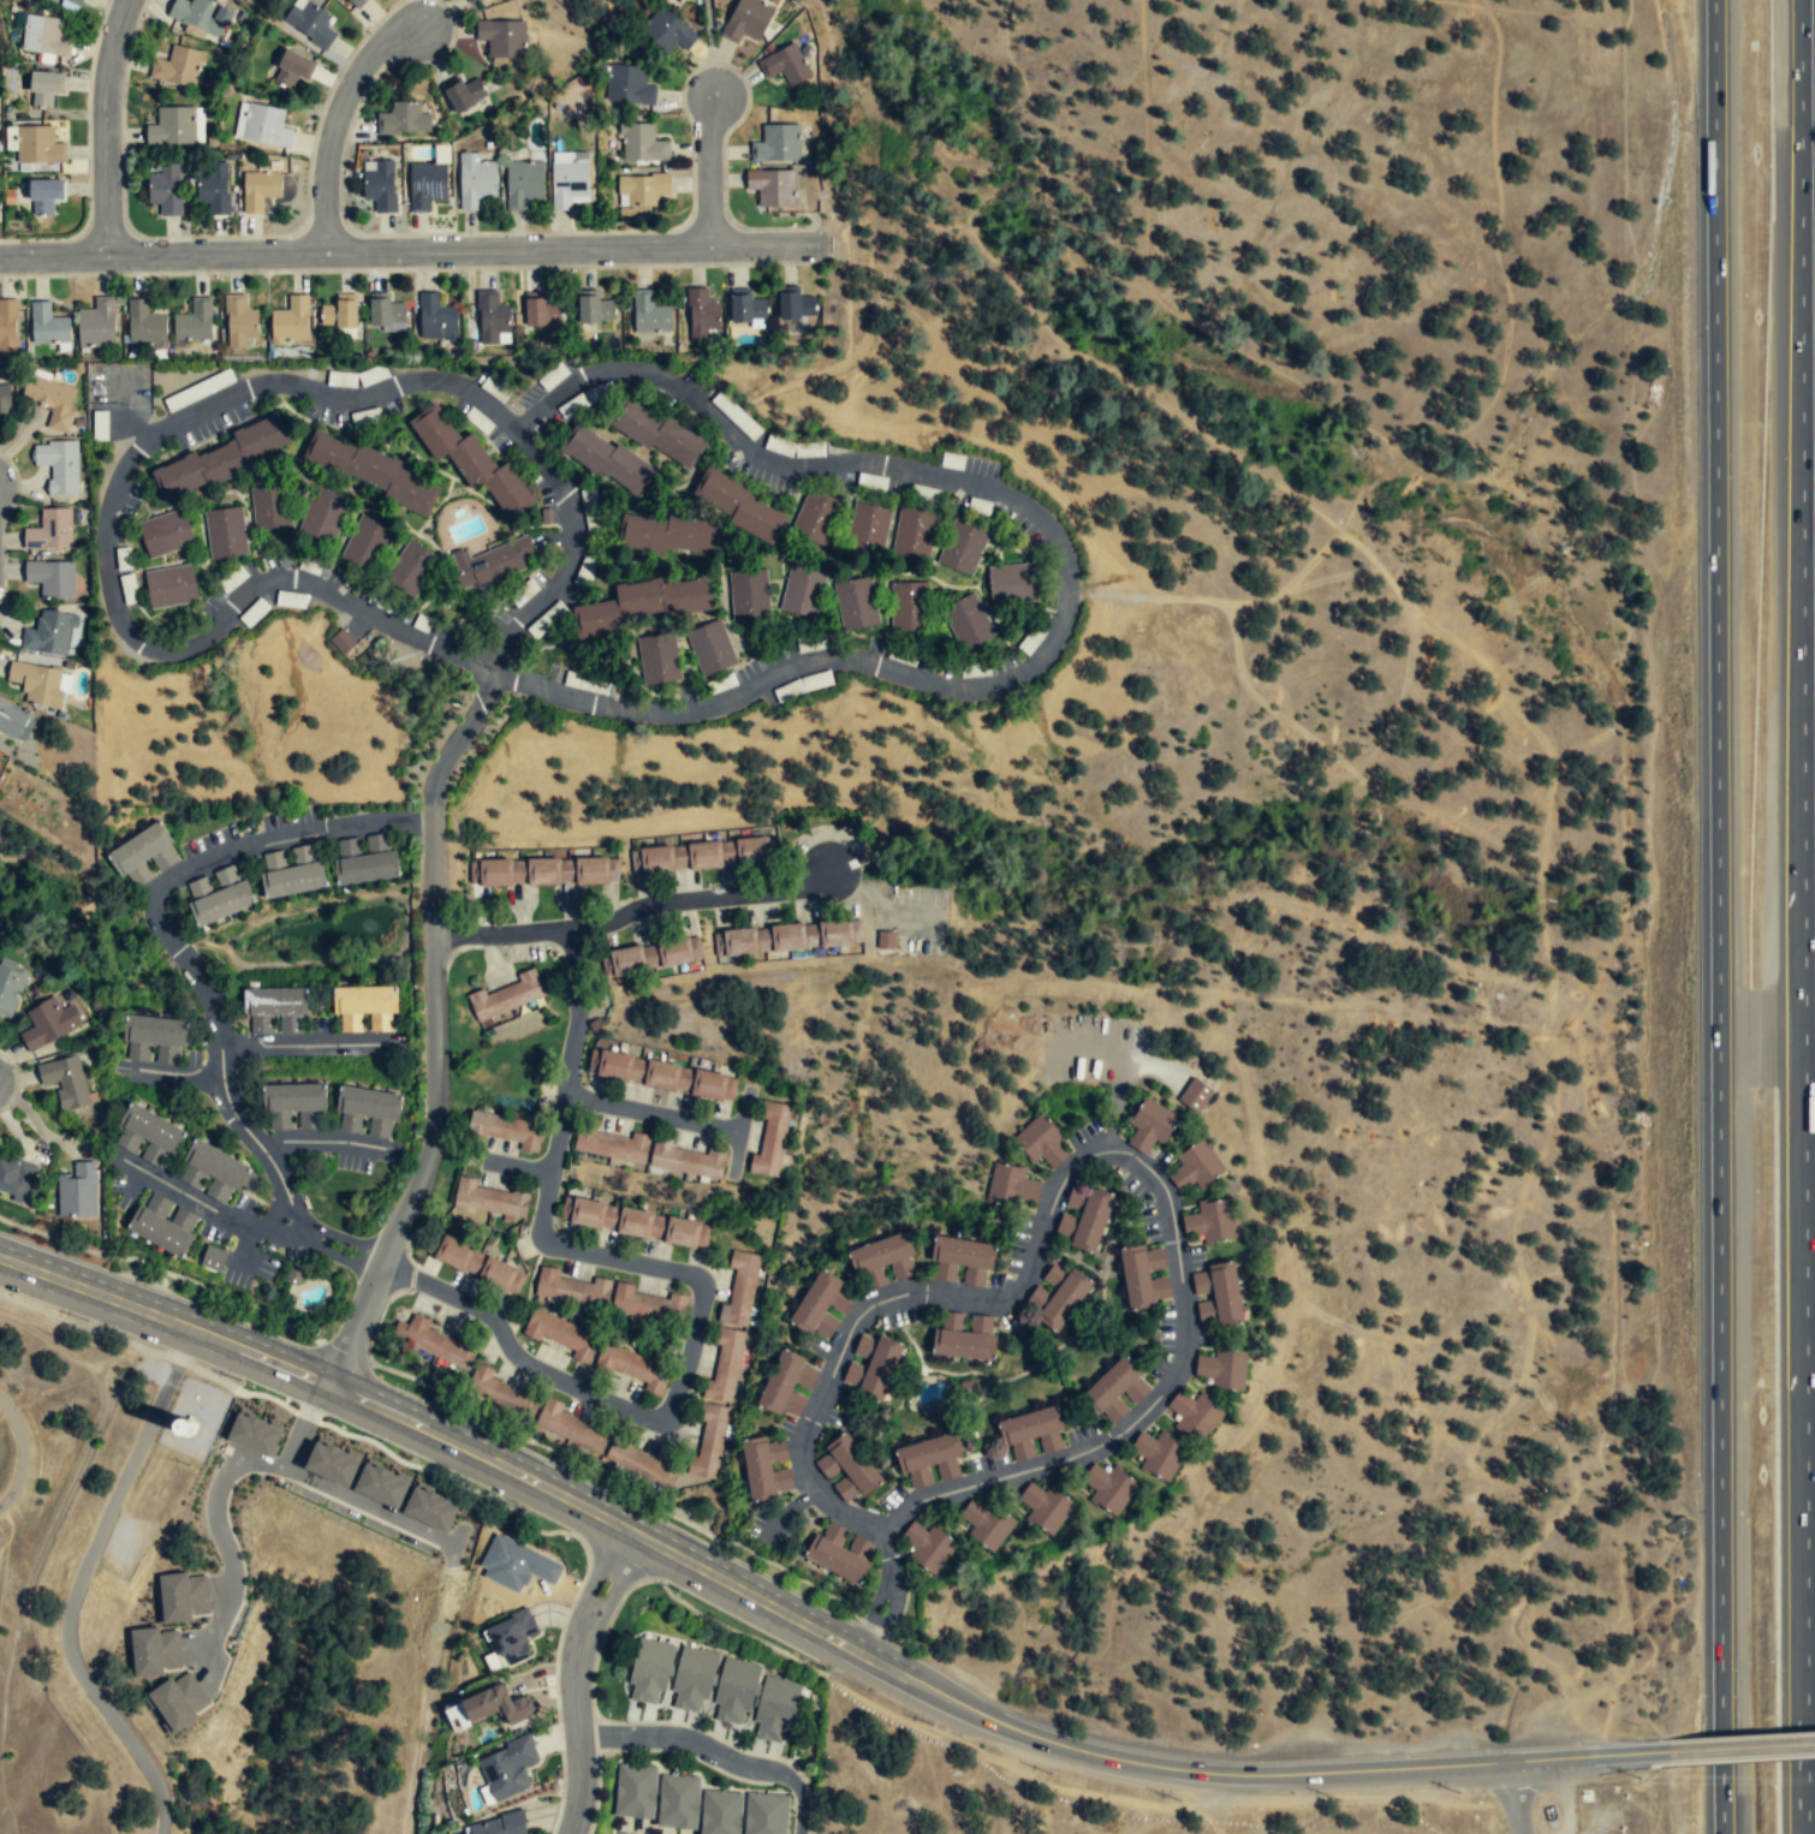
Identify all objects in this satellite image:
building: (73, 1)
building: (474, 2)
road: (1457, 2)
road: (1486, 2)
building: (353, 4)
park: (601, 14)
building: (201, 16)
building: (746, 20)
building: (310, 24)
road: (709, 30)
building: (667, 32)
building: (43, 35)
building: (501, 38)
building: (785, 65)
building: (178, 69)
building: (291, 71)
building: (631, 87)
building: (44, 90)
building: (465, 95)
building: (403, 120)
road: (105, 125)
building: (263, 126)
building: (172, 129)
road: (344, 129)
building: (641, 144)
building: (776, 144)
building: (37, 147)
road: (1493, 161)
road: (720, 175)
building: (569, 179)
building: (475, 181)
building: (426, 185)
building: (523, 185)
building: (380, 186)
building: (213, 187)
building: (772, 187)
building: (163, 190)
building: (641, 190)
building: (258, 191)
building: (44, 196)
road: (409, 258)
building: (797, 306)
building: (745, 308)
building: (596, 311)
building: (542, 312)
building: (386, 314)
building: (339, 315)
building: (649, 315)
building: (702, 317)
building: (436, 320)
building: (492, 320)
building: (195, 321)
building: (238, 322)
building: (290, 322)
building: (96, 323)
building: (47, 324)
building: (144, 324)
building: (7, 327)
building: (5, 400)
building: (52, 401)
road: (1801, 424)
building: (659, 436)
road: (1444, 445)
building: (221, 460)
building: (607, 462)
building: (472, 463)
building: (58, 468)
building: (371, 474)
building: (272, 507)
building: (739, 507)
building: (325, 516)
building: (817, 518)
road: (573, 525)
building: (868, 530)
building: (50, 532)
building: (165, 535)
building: (225, 535)
building: (667, 535)
building: (914, 535)
road: (103, 542)
building: (367, 544)
building: (964, 547)
road: (1065, 555)
building: (494, 564)
building: (413, 570)
building: (52, 579)
building: (1014, 585)
building: (169, 588)
building: (803, 591)
building: (749, 595)
building: (645, 605)
building: (857, 605)
building: (909, 608)
building: (969, 623)
building: (49, 635)
building: (343, 642)
building: (710, 648)
building: (659, 660)
road: (499, 663)
road: (519, 677)
building: (36, 684)
building: (13, 724)
road: (376, 821)
road: (249, 841)
building: (141, 853)
building: (698, 857)
building: (363, 861)
road: (1722, 868)
building: (292, 871)
building: (542, 871)
road: (863, 886)
building: (219, 897)
road: (632, 909)
road: (918, 915)
building: (786, 939)
building: (885, 940)
building: (674, 953)
road: (433, 981)
building: (10, 988)
building: (507, 996)
building: (364, 1010)
building: (275, 1011)
building: (496, 1019)
building: (49, 1024)
building: (155, 1041)
road: (219, 1043)
road: (344, 1043)
road: (261, 1046)
road: (179, 1076)
building: (662, 1077)
building: (65, 1083)
building: (1195, 1096)
building: (294, 1108)
building: (368, 1113)
road: (653, 1113)
building: (1149, 1126)
building: (508, 1132)
road: (739, 1132)
building: (150, 1137)
road: (299, 1139)
building: (772, 1141)
road: (359, 1143)
building: (1041, 1143)
road: (1546, 1143)
road: (1100, 1151)
building: (650, 1154)
building: (1196, 1167)
building: (215, 1172)
building: (16, 1178)
road: (137, 1178)
road: (160, 1179)
building: (1012, 1187)
building: (77, 1192)
building: (486, 1199)
road: (228, 1216)
building: (1083, 1217)
building: (1210, 1221)
building: (163, 1223)
building: (635, 1223)
road: (273, 1228)
road: (339, 1244)
road: (244, 1245)
building: (881, 1254)
building: (212, 1258)
building: (962, 1261)
building: (476, 1263)
building: (903, 1272)
building: (1144, 1275)
building: (292, 1276)
road: (697, 1279)
building: (572, 1288)
building: (740, 1288)
road: (1803, 1291)
building: (1218, 1294)
building: (1057, 1296)
building: (649, 1304)
building: (822, 1308)
road: (356, 1323)
road: (89, 1327)
building: (560, 1333)
building: (965, 1336)
building: (434, 1341)
building: (725, 1364)
building: (633, 1365)
building: (871, 1366)
building: (1224, 1369)
street lamp: (244, 1381)
building: (789, 1386)
building: (1115, 1391)
building: (500, 1393)
building: (1194, 1415)
water tower: (184, 1427)
building: (571, 1428)
building: (1031, 1433)
building: (250, 1436)
building: (709, 1440)
street lamp: (385, 1441)
road: (22, 1453)
building: (1159, 1455)
building: (929, 1460)
building: (327, 1463)
building: (639, 1465)
building: (849, 1466)
building: (766, 1470)
building: (376, 1484)
building: (1108, 1490)
road: (798, 1502)
street lamp: (504, 1507)
building: (1047, 1507)
building: (426, 1508)
building: (986, 1523)
road: (772, 1528)
building: (928, 1546)
building: (840, 1553)
park: (44, 1560)
street lamp: (584, 1566)
road: (595, 1567)
road: (701, 1570)
road: (618, 1577)
road: (81, 1583)
road: (889, 1594)
building: (181, 1597)
building: (506, 1641)
building: (153, 1651)
building: (649, 1671)
building: (691, 1680)
building: (733, 1691)
building: (177, 1701)
building: (500, 1708)
building: (774, 1711)
road: (576, 1721)
street lamp: (934, 1723)
road: (1737, 1746)
road: (714, 1750)
road: (1637, 1752)
road: (1732, 1758)
road: (1519, 1759)
building: (504, 1772)
street lamp: (1460, 1792)
road: (1802, 1796)
building: (655, 1797)
road: (1517, 1797)
street lamp: (1178, 1798)
road: (1722, 1798)
building: (720, 1811)
building: (766, 1814)
street lamp: (1554, 1816)
building: (496, 1826)

